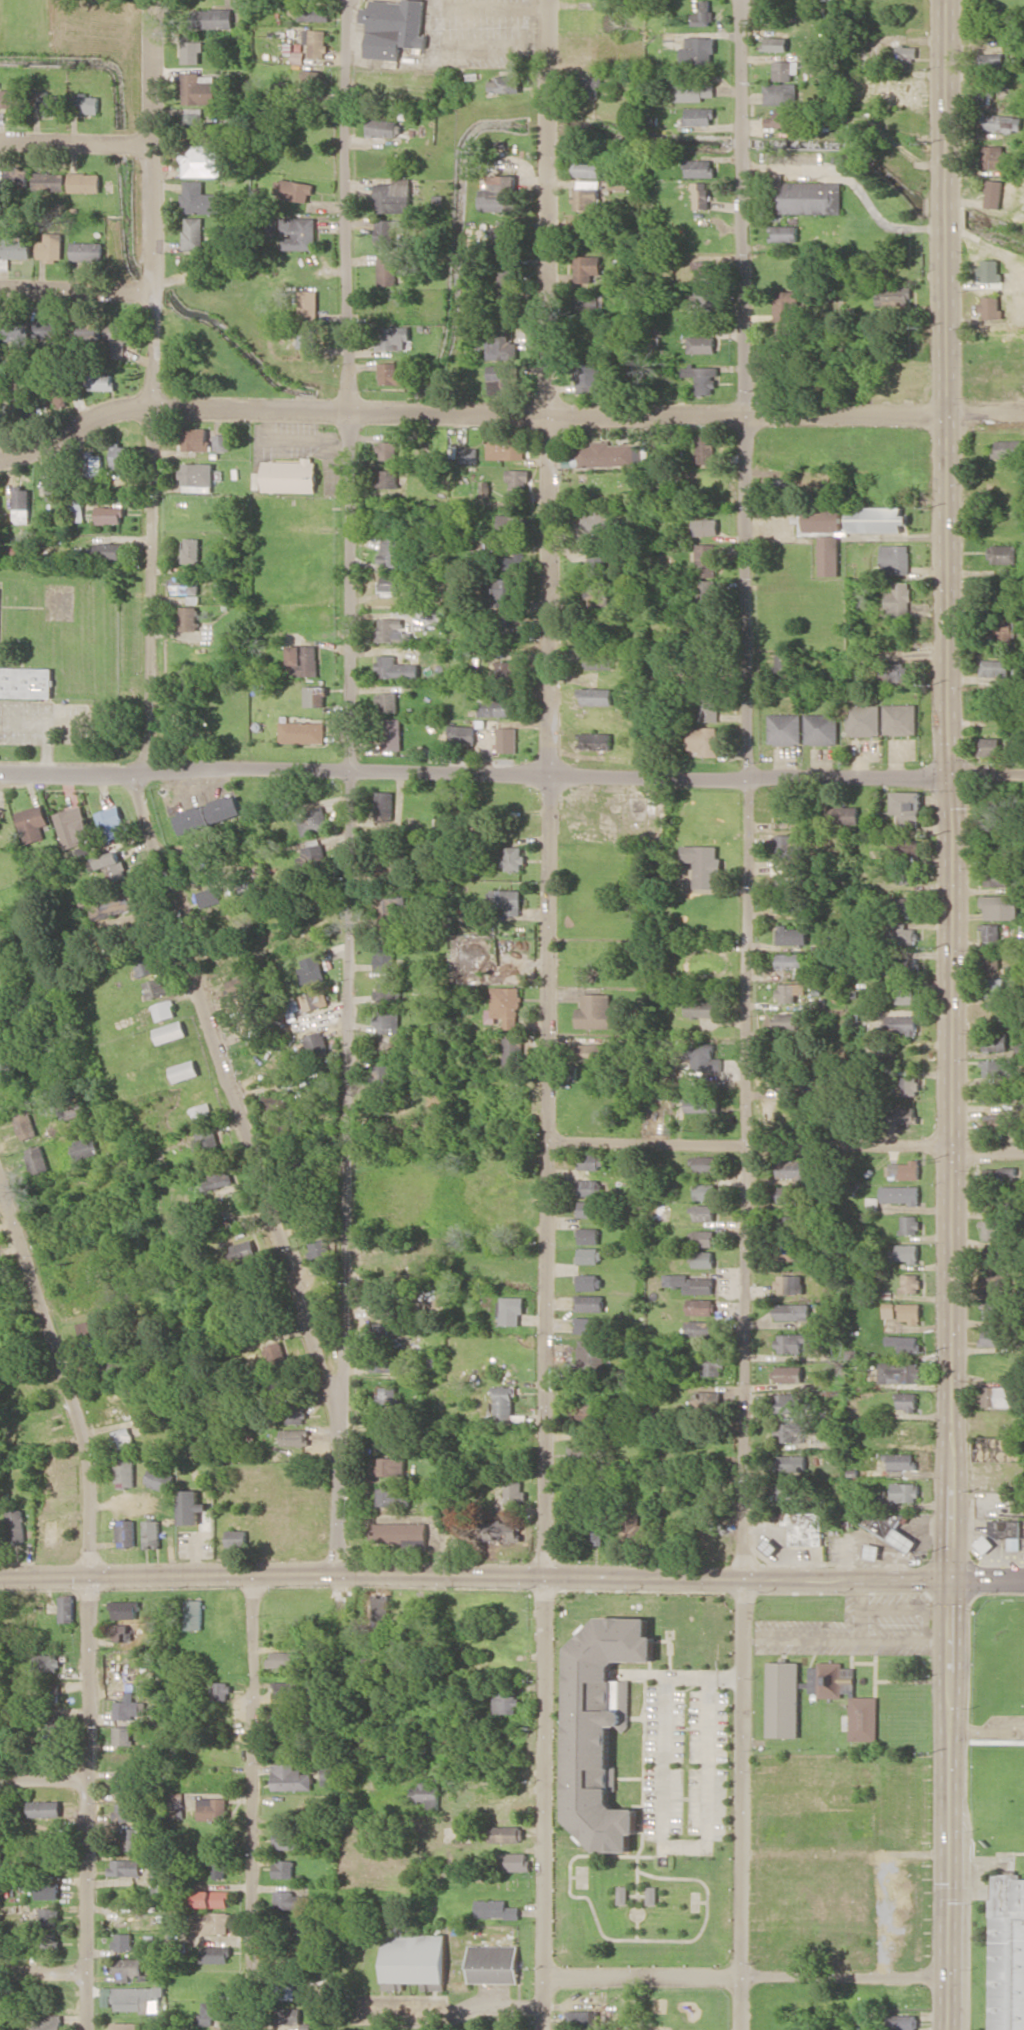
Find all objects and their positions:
building: (315, 13)
building: (705, 14)
building: (213, 18)
building: (394, 27)
building: (317, 42)
building: (776, 43)
building: (701, 49)
building: (589, 50)
building: (192, 51)
building: (906, 55)
building: (990, 60)
building: (785, 69)
building: (313, 78)
building: (505, 84)
building: (592, 86)
building: (199, 88)
building: (692, 91)
building: (781, 93)
building: (985, 97)
building: (11, 98)
building: (47, 101)
building: (87, 103)
building: (699, 116)
building: (789, 118)
building: (1003, 122)
building: (198, 124)
building: (385, 127)
road: (76, 146)
building: (995, 156)
building: (203, 160)
building: (586, 168)
building: (699, 168)
building: (17, 178)
building: (51, 181)
building: (84, 182)
building: (294, 190)
building: (994, 193)
building: (499, 194)
building: (701, 195)
building: (808, 196)
building: (395, 197)
building: (587, 197)
building: (200, 198)
road: (152, 203)
building: (193, 233)
building: (299, 233)
building: (785, 233)
building: (386, 234)
building: (503, 235)
building: (588, 235)
building: (50, 246)
building: (22, 248)
building: (85, 252)
building: (588, 267)
building: (702, 268)
building: (388, 270)
building: (990, 270)
road: (75, 288)
building: (892, 294)
building: (700, 302)
building: (590, 303)
building: (786, 305)
building: (510, 306)
building: (990, 306)
building: (307, 317)
building: (45, 328)
building: (4, 330)
building: (85, 331)
building: (120, 337)
building: (395, 337)
building: (784, 337)
building: (700, 344)
building: (392, 374)
building: (589, 375)
building: (502, 378)
building: (702, 378)
building: (101, 379)
road: (946, 386)
building: (0, 401)
road: (588, 412)
road: (76, 427)
building: (195, 439)
building: (221, 442)
building: (505, 447)
building: (1009, 448)
building: (704, 449)
building: (388, 450)
building: (120, 454)
building: (609, 454)
building: (467, 455)
building: (94, 464)
building: (289, 475)
building: (389, 478)
building: (517, 482)
building: (54, 485)
building: (0, 493)
building: (22, 504)
building: (77, 508)
building: (110, 514)
building: (877, 519)
building: (596, 520)
building: (510, 523)
building: (705, 526)
building: (191, 549)
building: (109, 551)
building: (394, 551)
building: (1001, 553)
building: (828, 555)
building: (894, 558)
building: (705, 559)
building: (597, 561)
building: (392, 584)
building: (185, 585)
building: (502, 586)
road: (152, 593)
building: (706, 595)
building: (1004, 597)
building: (897, 600)
building: (188, 618)
building: (506, 626)
building: (1006, 627)
building: (391, 629)
building: (709, 635)
building: (302, 660)
building: (600, 660)
building: (782, 665)
building: (396, 667)
building: (994, 668)
building: (505, 670)
building: (707, 671)
building: (893, 672)
building: (26, 682)
building: (314, 696)
building: (595, 696)
building: (388, 702)
building: (494, 704)
building: (708, 709)
building: (900, 718)
building: (863, 720)
building: (785, 728)
building: (821, 729)
building: (302, 732)
building: (392, 733)
building: (462, 734)
building: (507, 739)
building: (595, 740)
building: (703, 740)
building: (990, 745)
road: (474, 771)
road: (986, 772)
building: (995, 796)
building: (907, 808)
building: (384, 809)
building: (208, 814)
building: (841, 815)
building: (0, 817)
road: (349, 817)
building: (313, 820)
building: (110, 822)
building: (33, 823)
building: (480, 825)
building: (74, 826)
building: (784, 846)
building: (998, 849)
building: (312, 851)
building: (514, 858)
building: (906, 859)
building: (393, 860)
building: (109, 861)
building: (191, 863)
building: (704, 864)
building: (784, 876)
building: (996, 877)
building: (209, 896)
building: (508, 900)
building: (789, 900)
building: (905, 905)
building: (1001, 906)
building: (994, 932)
building: (905, 933)
building: (793, 935)
building: (384, 958)
building: (994, 959)
building: (794, 962)
building: (904, 964)
building: (145, 965)
building: (312, 969)
building: (240, 985)
building: (155, 987)
building: (999, 989)
building: (389, 990)
building: (792, 991)
building: (906, 994)
building: (313, 1000)
building: (505, 1007)
building: (702, 1008)
building: (164, 1010)
building: (595, 1011)
road: (548, 1014)
road: (748, 1015)
building: (388, 1020)
building: (787, 1020)
building: (903, 1024)
building: (170, 1032)
building: (996, 1039)
building: (318, 1045)
building: (590, 1052)
building: (512, 1054)
building: (707, 1058)
building: (998, 1068)
building: (184, 1070)
building: (909, 1085)
building: (994, 1094)
building: (697, 1099)
road: (238, 1100)
building: (277, 1102)
building: (71, 1107)
building: (202, 1113)
building: (905, 1114)
building: (994, 1122)
building: (26, 1124)
building: (207, 1141)
road: (749, 1144)
building: (86, 1147)
road: (987, 1148)
building: (37, 1160)
building: (591, 1161)
building: (703, 1164)
building: (790, 1169)
building: (904, 1170)
building: (218, 1179)
building: (589, 1187)
building: (704, 1191)
building: (789, 1194)
building: (899, 1194)
building: (589, 1208)
building: (703, 1212)
building: (909, 1224)
building: (990, 1228)
building: (589, 1235)
building: (703, 1238)
building: (319, 1247)
building: (239, 1252)
building: (788, 1252)
building: (907, 1252)
building: (995, 1254)
building: (590, 1255)
building: (704, 1258)
building: (322, 1268)
building: (590, 1282)
building: (997, 1282)
building: (690, 1283)
building: (789, 1283)
building: (910, 1283)
building: (381, 1301)
building: (591, 1302)
building: (701, 1306)
building: (512, 1309)
building: (888, 1310)
building: (991, 1310)
building: (793, 1311)
building: (909, 1312)
building: (590, 1325)
building: (699, 1328)
building: (380, 1331)
building: (992, 1337)
building: (798, 1341)
building: (904, 1342)
building: (590, 1356)
building: (385, 1363)
building: (715, 1366)
building: (112, 1367)
building: (899, 1372)
building: (789, 1374)
building: (388, 1395)
building: (996, 1396)
building: (707, 1399)
building: (907, 1401)
road: (951, 1401)
building: (115, 1403)
building: (787, 1403)
building: (505, 1404)
building: (582, 1411)
building: (297, 1415)
building: (788, 1432)
building: (902, 1432)
building: (294, 1436)
building: (390, 1436)
building: (122, 1438)
building: (581, 1450)
building: (900, 1460)
building: (790, 1463)
building: (391, 1467)
building: (125, 1473)
building: (159, 1479)
building: (717, 1490)
building: (904, 1491)
building: (785, 1492)
building: (514, 1493)
building: (395, 1496)
building: (191, 1506)
building: (18, 1526)
building: (633, 1527)
building: (804, 1528)
building: (892, 1529)
building: (501, 1531)
building: (1006, 1531)
building: (402, 1532)
building: (126, 1533)
building: (152, 1533)
building: (52, 1534)
building: (595, 1534)
building: (237, 1538)
building: (984, 1543)
road: (512, 1574)
road: (90, 1592)
building: (68, 1609)
building: (125, 1609)
building: (382, 1611)
building: (194, 1614)
building: (121, 1632)
road: (846, 1635)
building: (282, 1659)
building: (47, 1662)
building: (49, 1688)
building: (289, 1689)
building: (222, 1690)
building: (783, 1699)
building: (506, 1702)
building: (129, 1709)
building: (286, 1718)
building: (863, 1718)
building: (601, 1727)
road: (986, 1732)
building: (122, 1735)
building: (287, 1744)
road: (845, 1756)
building: (292, 1778)
road: (45, 1784)
road: (644, 1787)
building: (427, 1794)
road: (255, 1801)
building: (46, 1808)
building: (214, 1808)
building: (126, 1812)
building: (507, 1833)
building: (131, 1838)
building: (289, 1840)
road: (845, 1852)
building: (515, 1861)
building: (218, 1864)
building: (126, 1867)
building: (285, 1868)
building: (49, 1889)
building: (622, 1895)
building: (651, 1895)
building: (212, 1898)
building: (291, 1900)
building: (496, 1908)
building: (51, 1916)
building: (211, 1922)
building: (44, 1942)
building: (124, 1942)
building: (1007, 1953)
building: (216, 1954)
building: (416, 1957)
building: (494, 1963)
building: (128, 1968)
road: (43, 1974)
road: (707, 1978)
building: (137, 1998)
building: (212, 2011)
building: (292, 2016)
building: (582, 2019)
building: (48, 2022)
building: (902, 2022)
building: (127, 2026)

